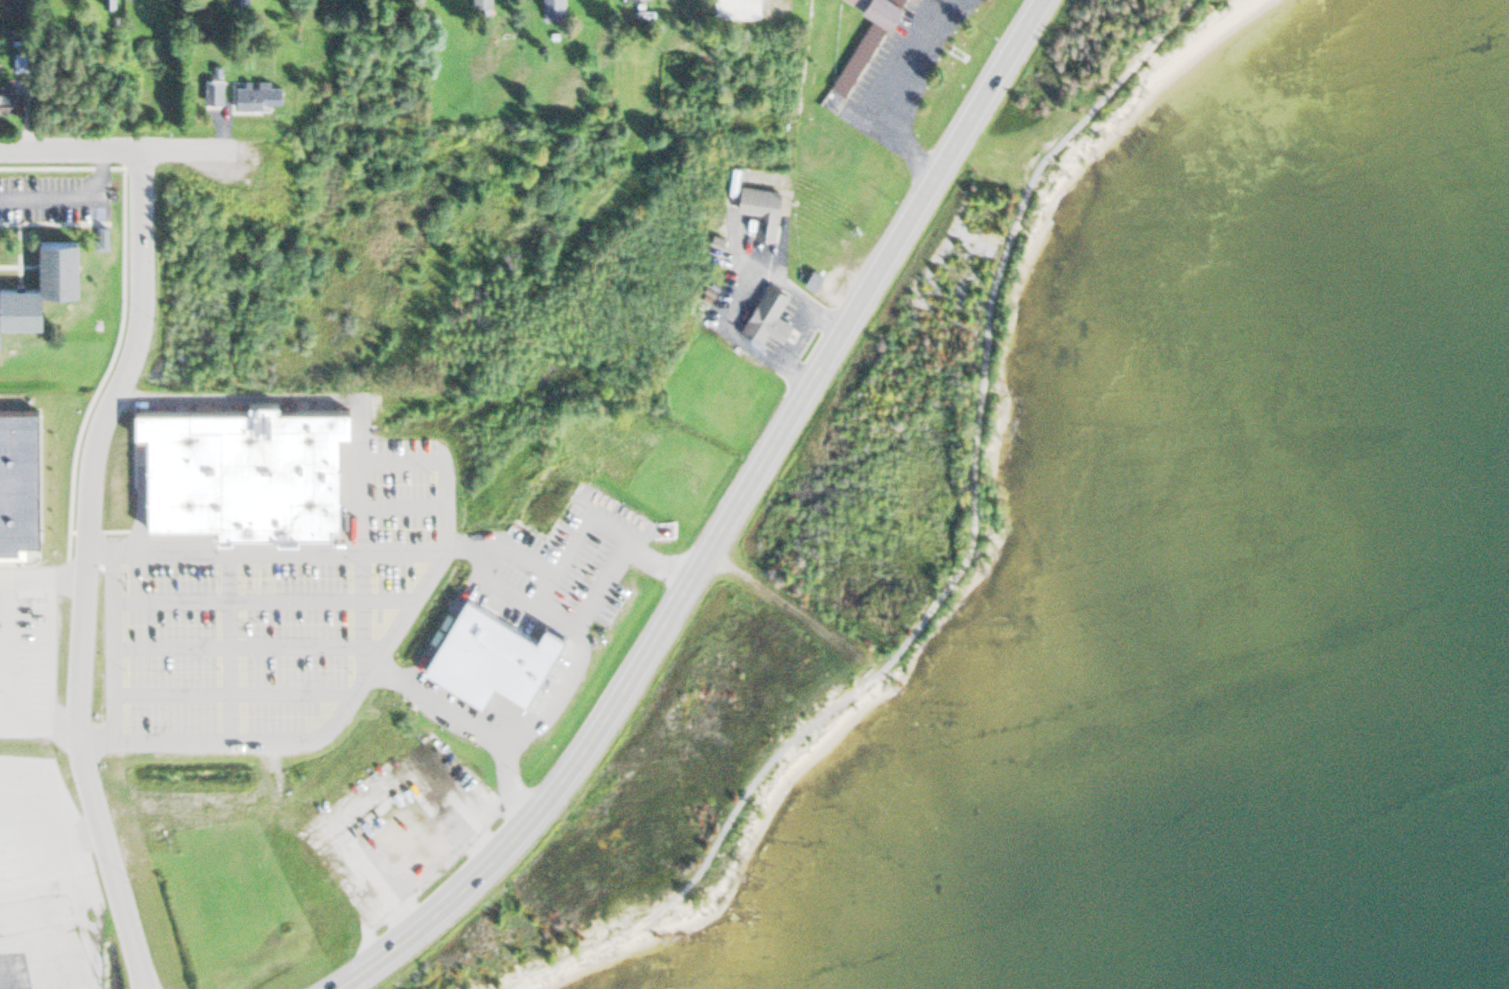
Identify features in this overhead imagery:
building: (237, 1)
building: (109, 2)
building: (16, 3)
building: (479, 6)
building: (553, 9)
building: (867, 39)
building: (18, 61)
road: (890, 90)
building: (212, 91)
building: (258, 95)
building: (7, 97)
road: (121, 149)
road: (67, 198)
building: (759, 207)
building: (42, 265)
building: (812, 278)
building: (768, 314)
road: (426, 460)
building: (245, 469)
building: (19, 481)
road: (400, 502)
park: (983, 519)
road: (720, 524)
road: (963, 563)
road: (81, 568)
road: (40, 580)
road: (260, 600)
road: (789, 611)
parking lot: (278, 620)
building: (523, 621)
road: (360, 633)
road: (235, 644)
road: (110, 645)
road: (226, 645)
building: (501, 648)
parking lot: (26, 649)
road: (46, 650)
road: (7, 651)
road: (576, 656)
road: (230, 693)
road: (36, 721)
building: (357, 749)
building: (344, 765)
building: (411, 836)

